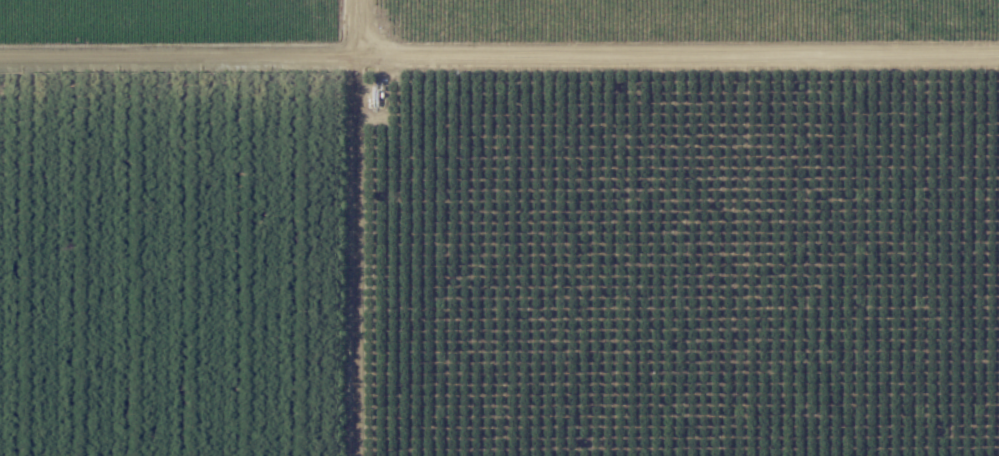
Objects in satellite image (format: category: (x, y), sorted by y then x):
crop: (178, 47)
road: (499, 65)
road: (315, 227)

